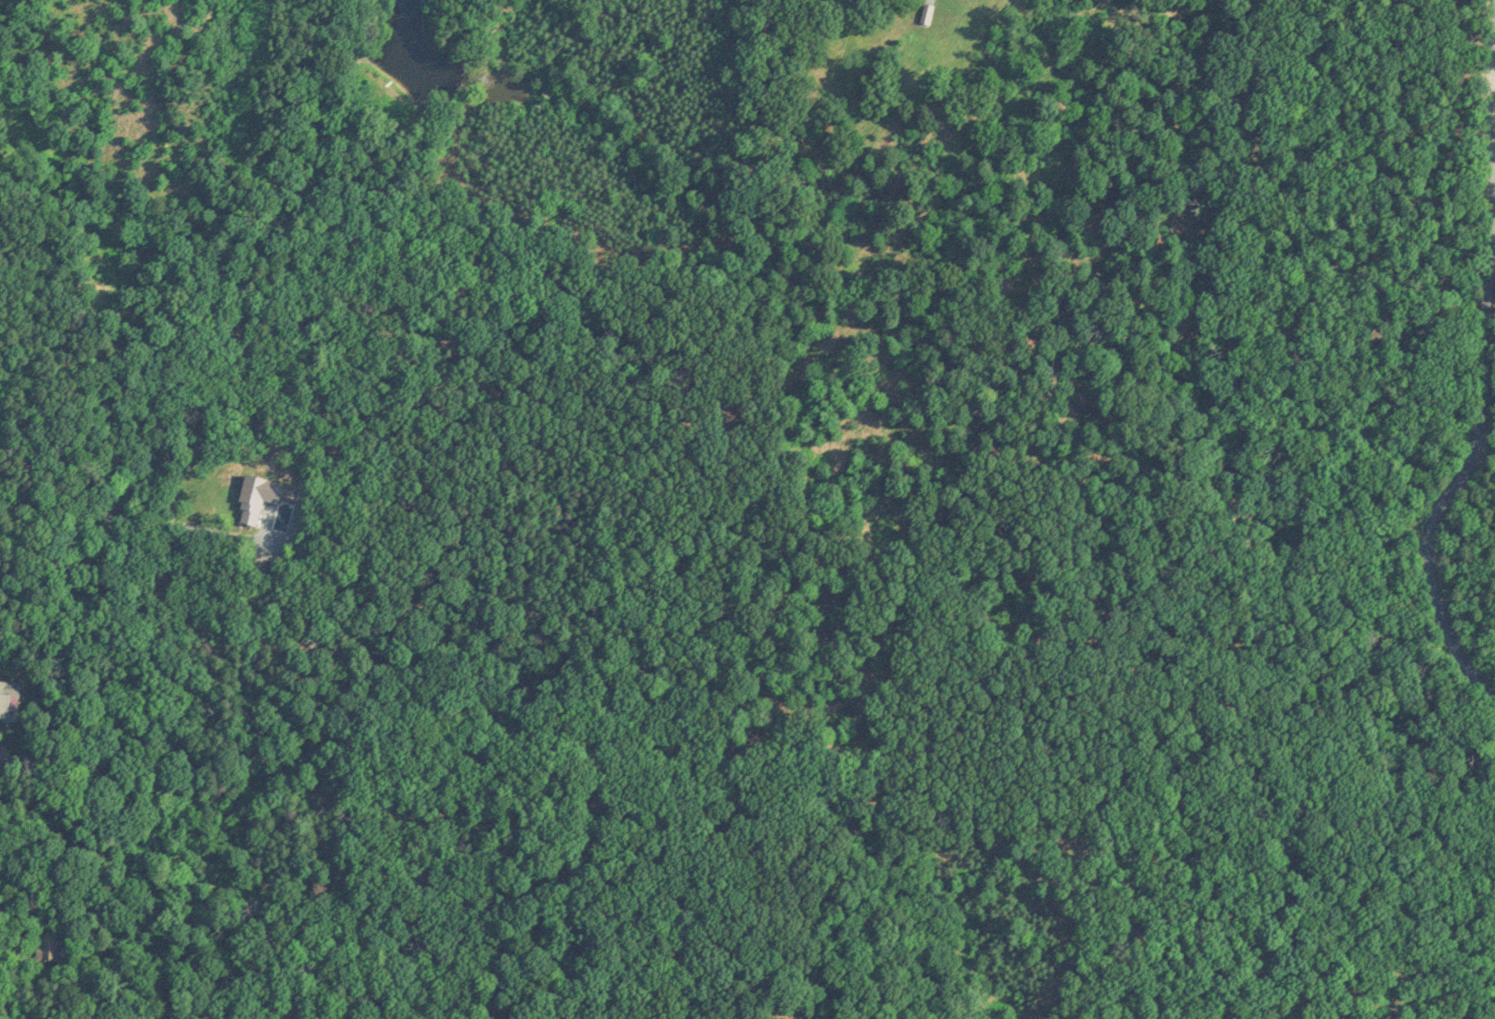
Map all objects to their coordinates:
building: (927, 11)
road: (1493, 223)
road: (1483, 424)
building: (258, 499)
road: (124, 524)
building: (9, 697)
building: (49, 941)

